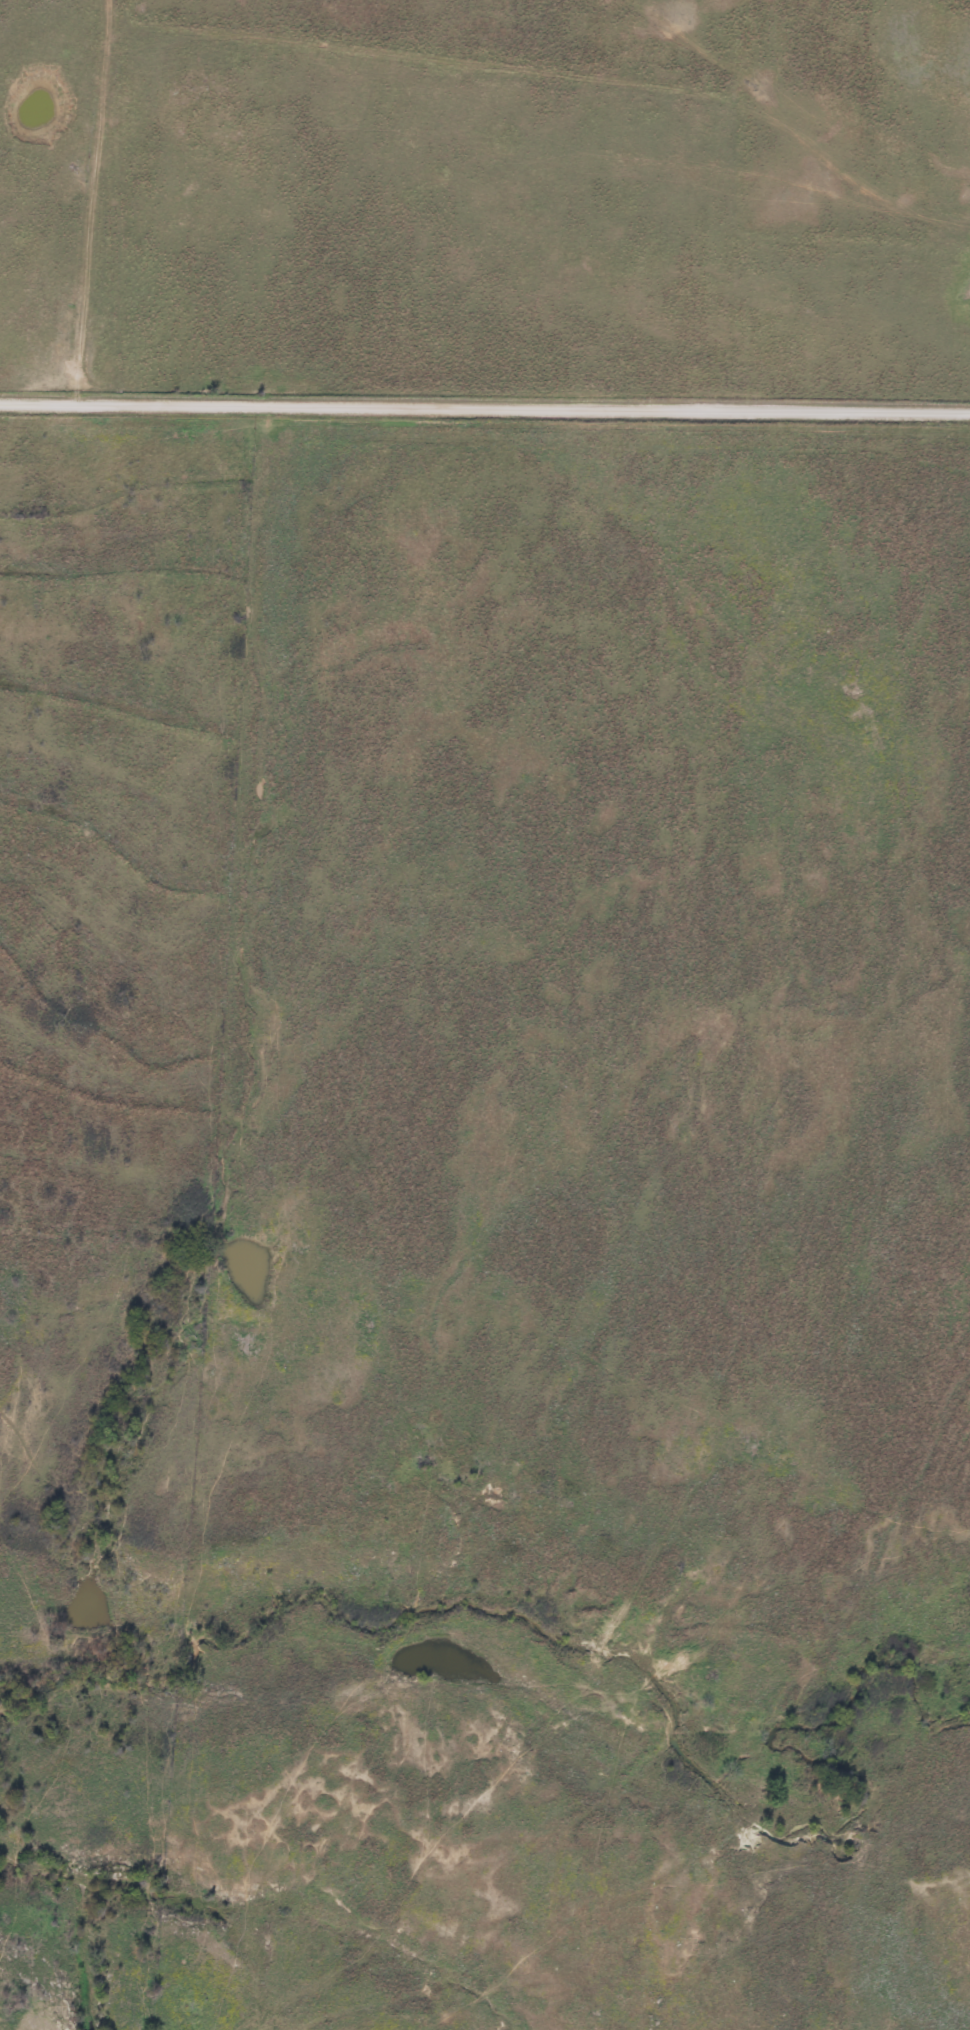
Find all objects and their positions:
road: (81, 200)
road: (485, 408)

